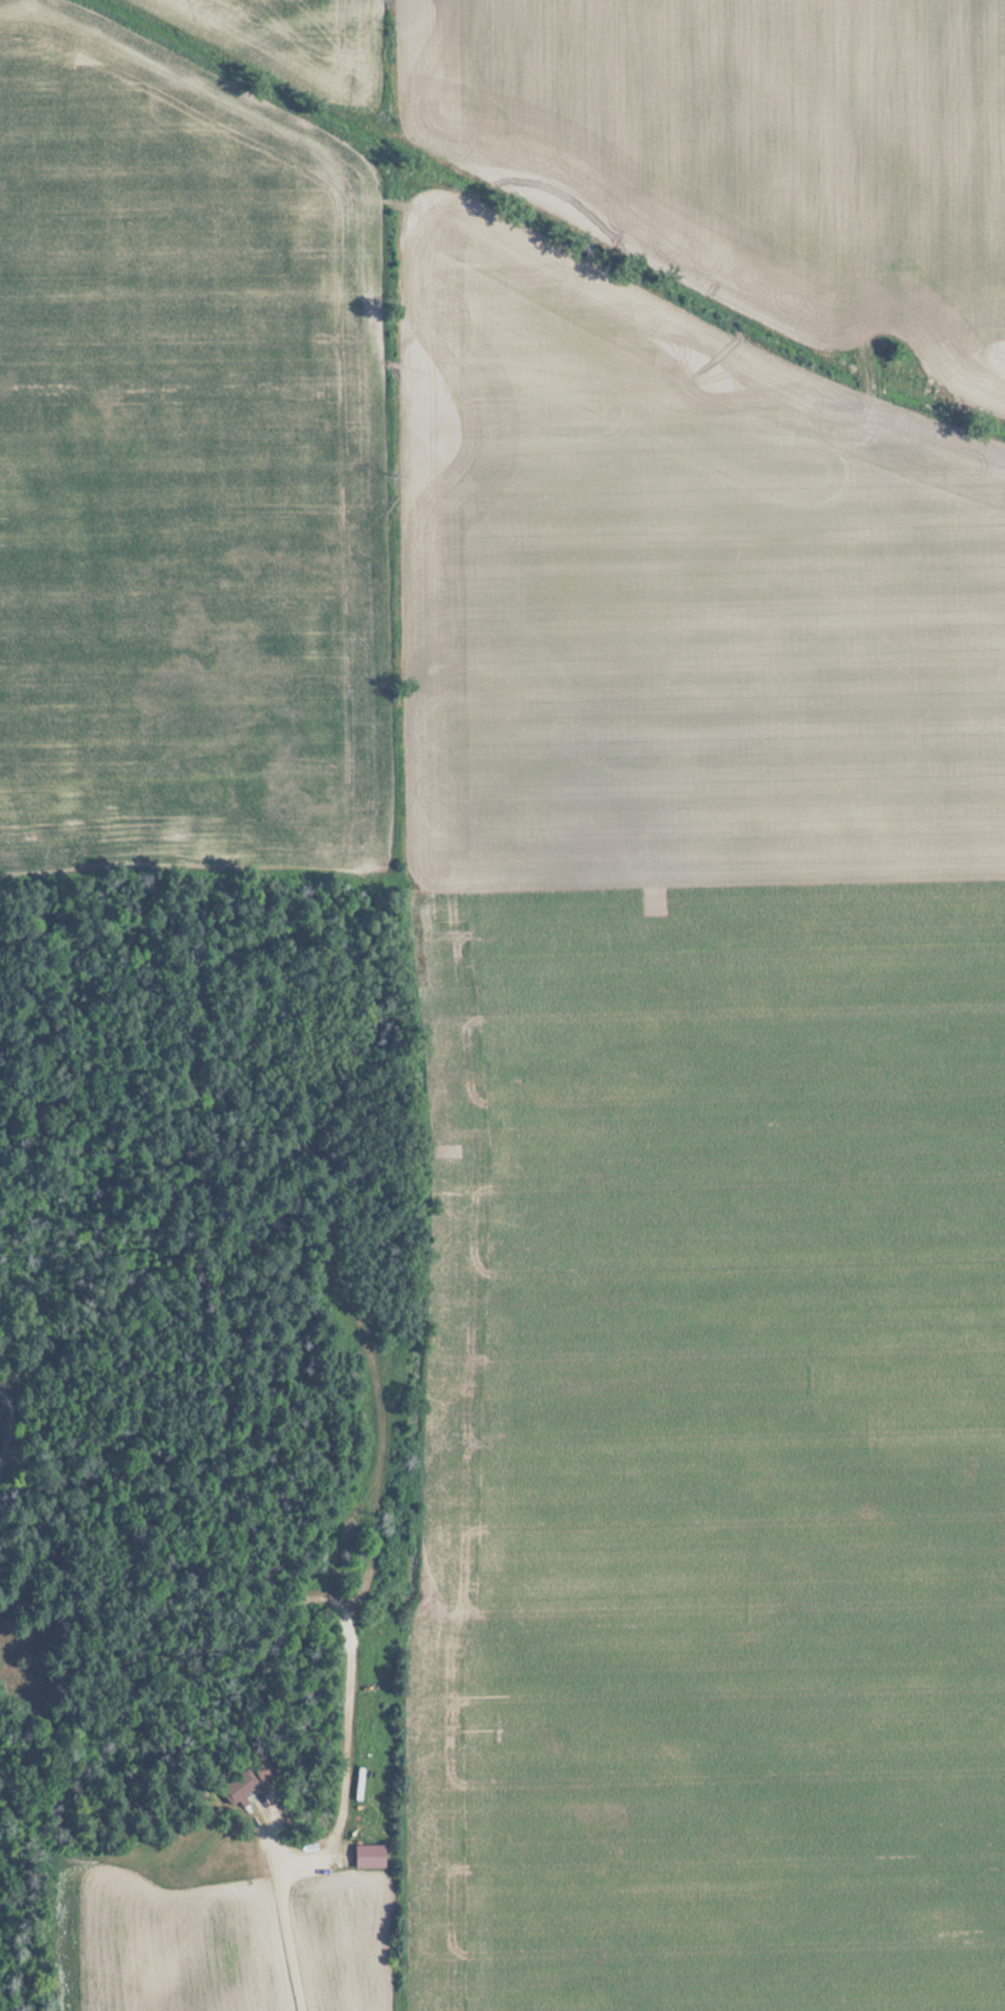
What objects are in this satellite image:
building: (252, 1776)
building: (370, 1856)

